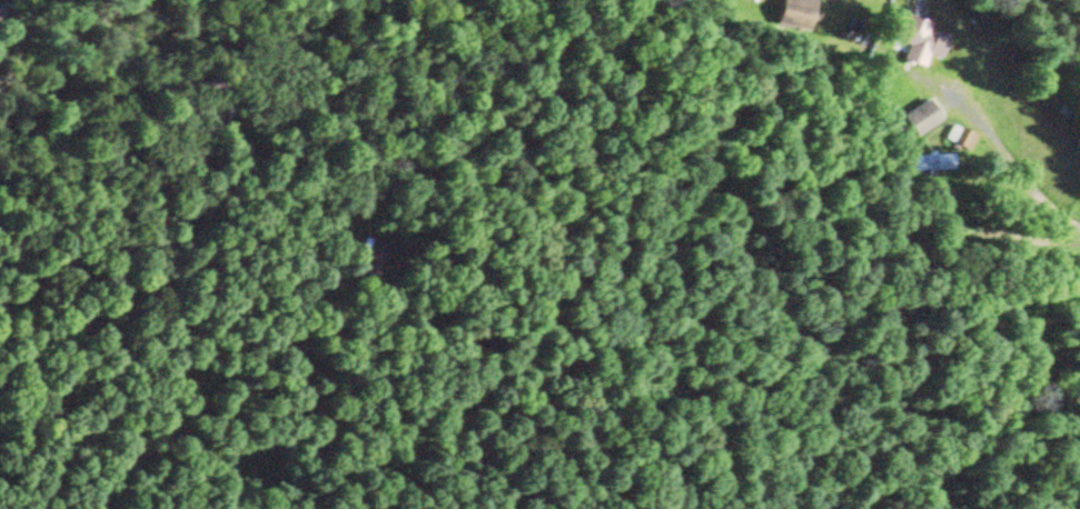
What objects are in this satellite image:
building: (791, 13)
building: (915, 39)
building: (918, 117)
building: (957, 138)
road: (1002, 158)
building: (928, 162)

